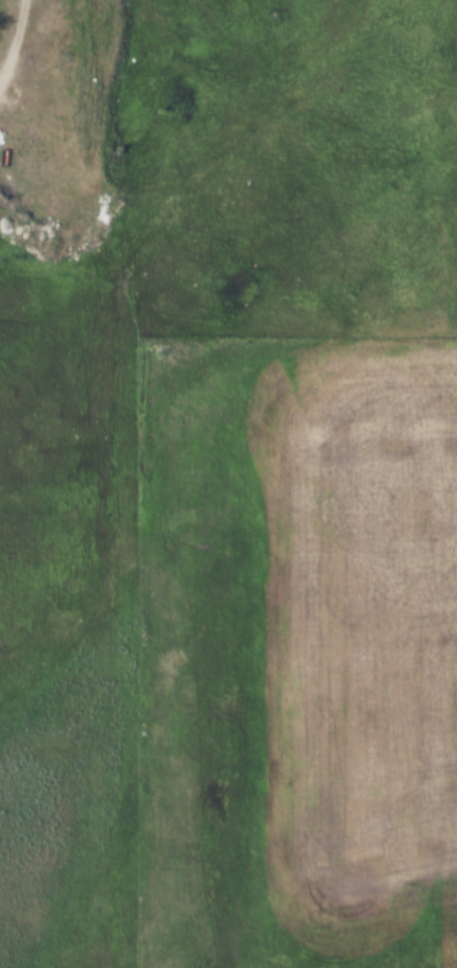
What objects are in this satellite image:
road: (20, 39)

